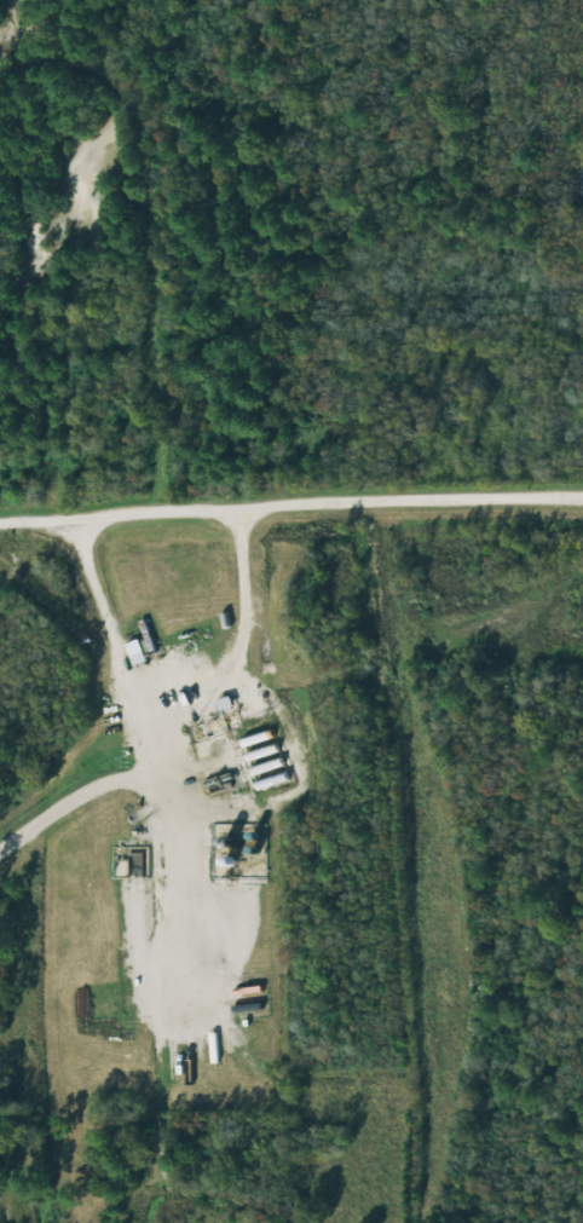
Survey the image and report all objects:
road: (121, 258)
road: (291, 374)
road: (291, 512)
road: (114, 639)
building: (138, 651)
road: (184, 722)

